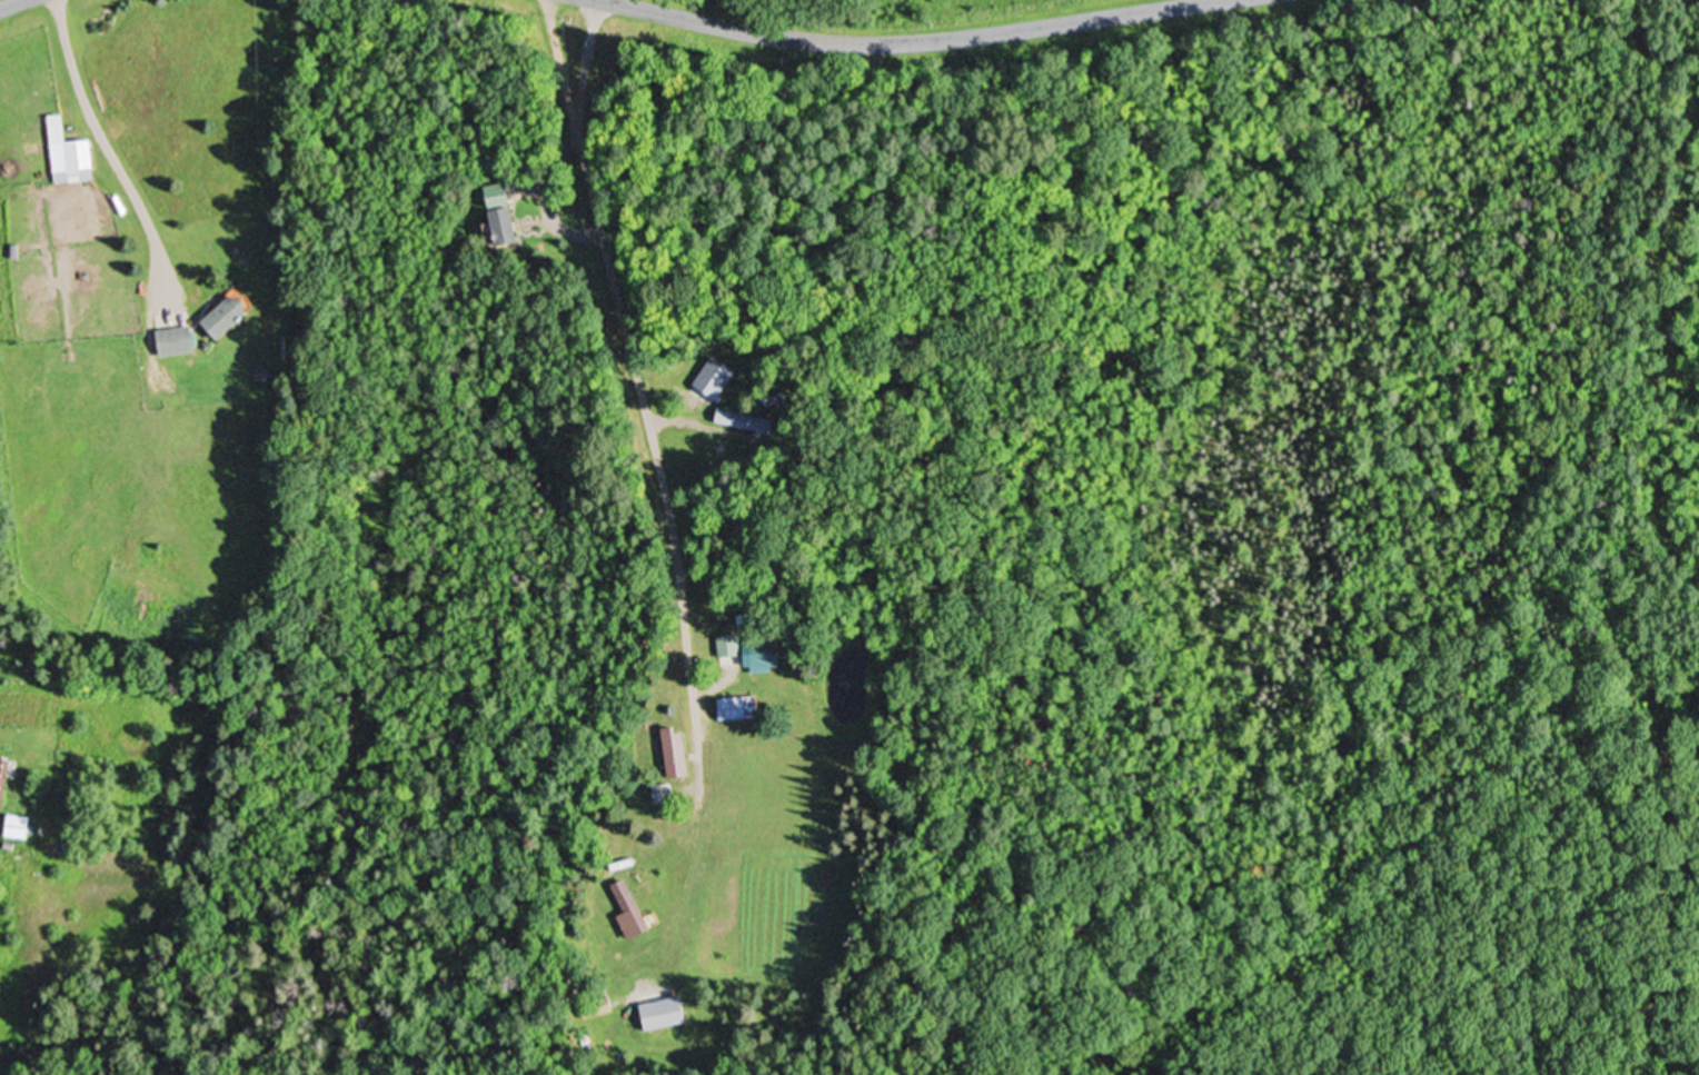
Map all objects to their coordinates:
road: (10, 3)
road: (926, 30)
building: (77, 153)
building: (497, 212)
building: (234, 315)
road: (630, 332)
building: (181, 339)
building: (738, 418)
building: (759, 653)
building: (731, 706)
building: (672, 750)
building: (659, 793)
building: (23, 825)
building: (624, 908)
building: (596, 1007)
building: (660, 1013)

